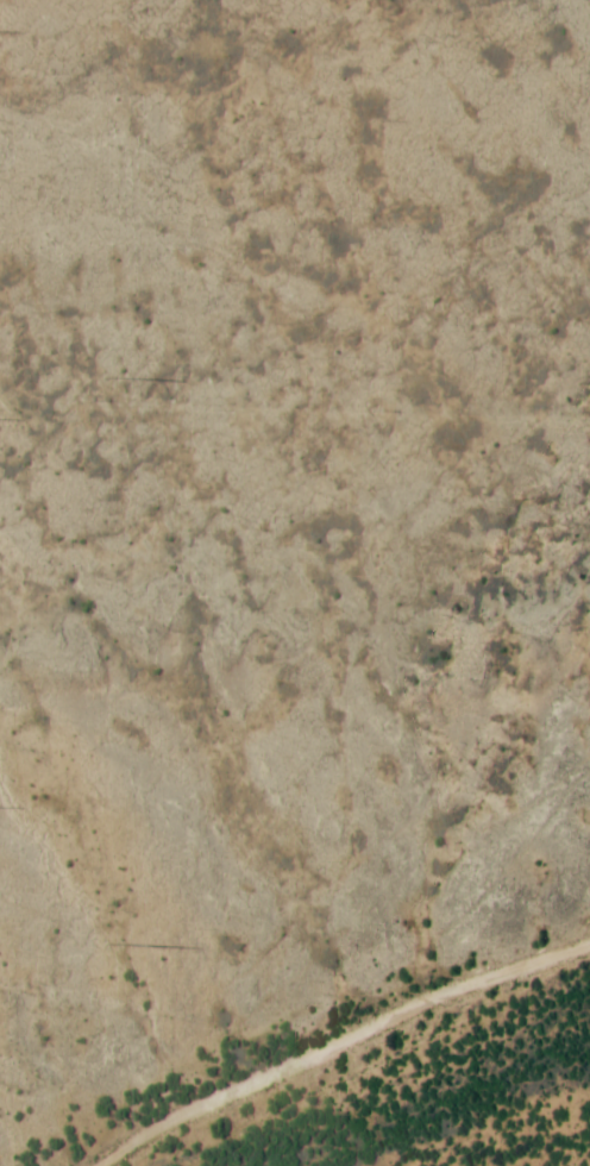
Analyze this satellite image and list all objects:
power tower: (113, 378)
power tower: (113, 942)
road: (338, 1045)

